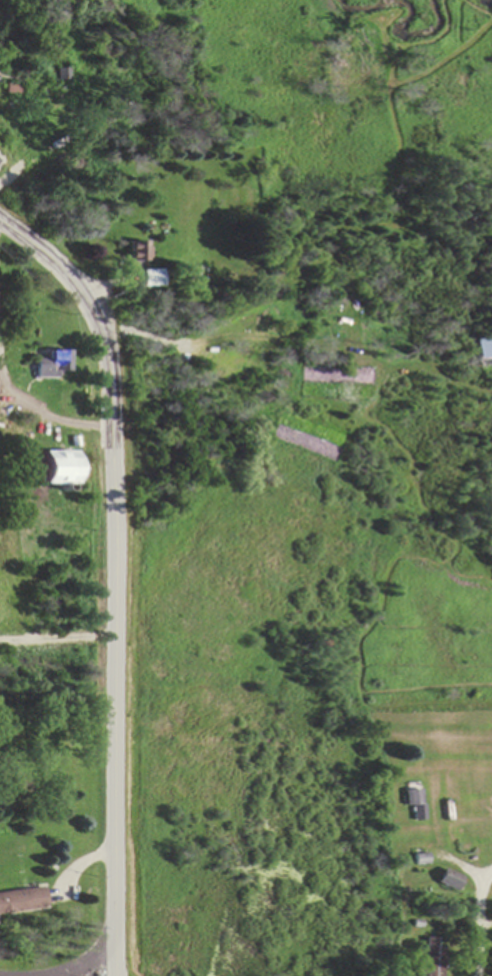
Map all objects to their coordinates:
building: (135, 255)
road: (54, 265)
building: (149, 277)
road: (166, 341)
building: (53, 367)
road: (2, 389)
road: (4, 403)
road: (58, 420)
building: (57, 468)
road: (56, 636)
road: (114, 647)
building: (412, 799)
building: (448, 881)
building: (23, 902)
road: (477, 921)
building: (432, 959)
road: (93, 961)

